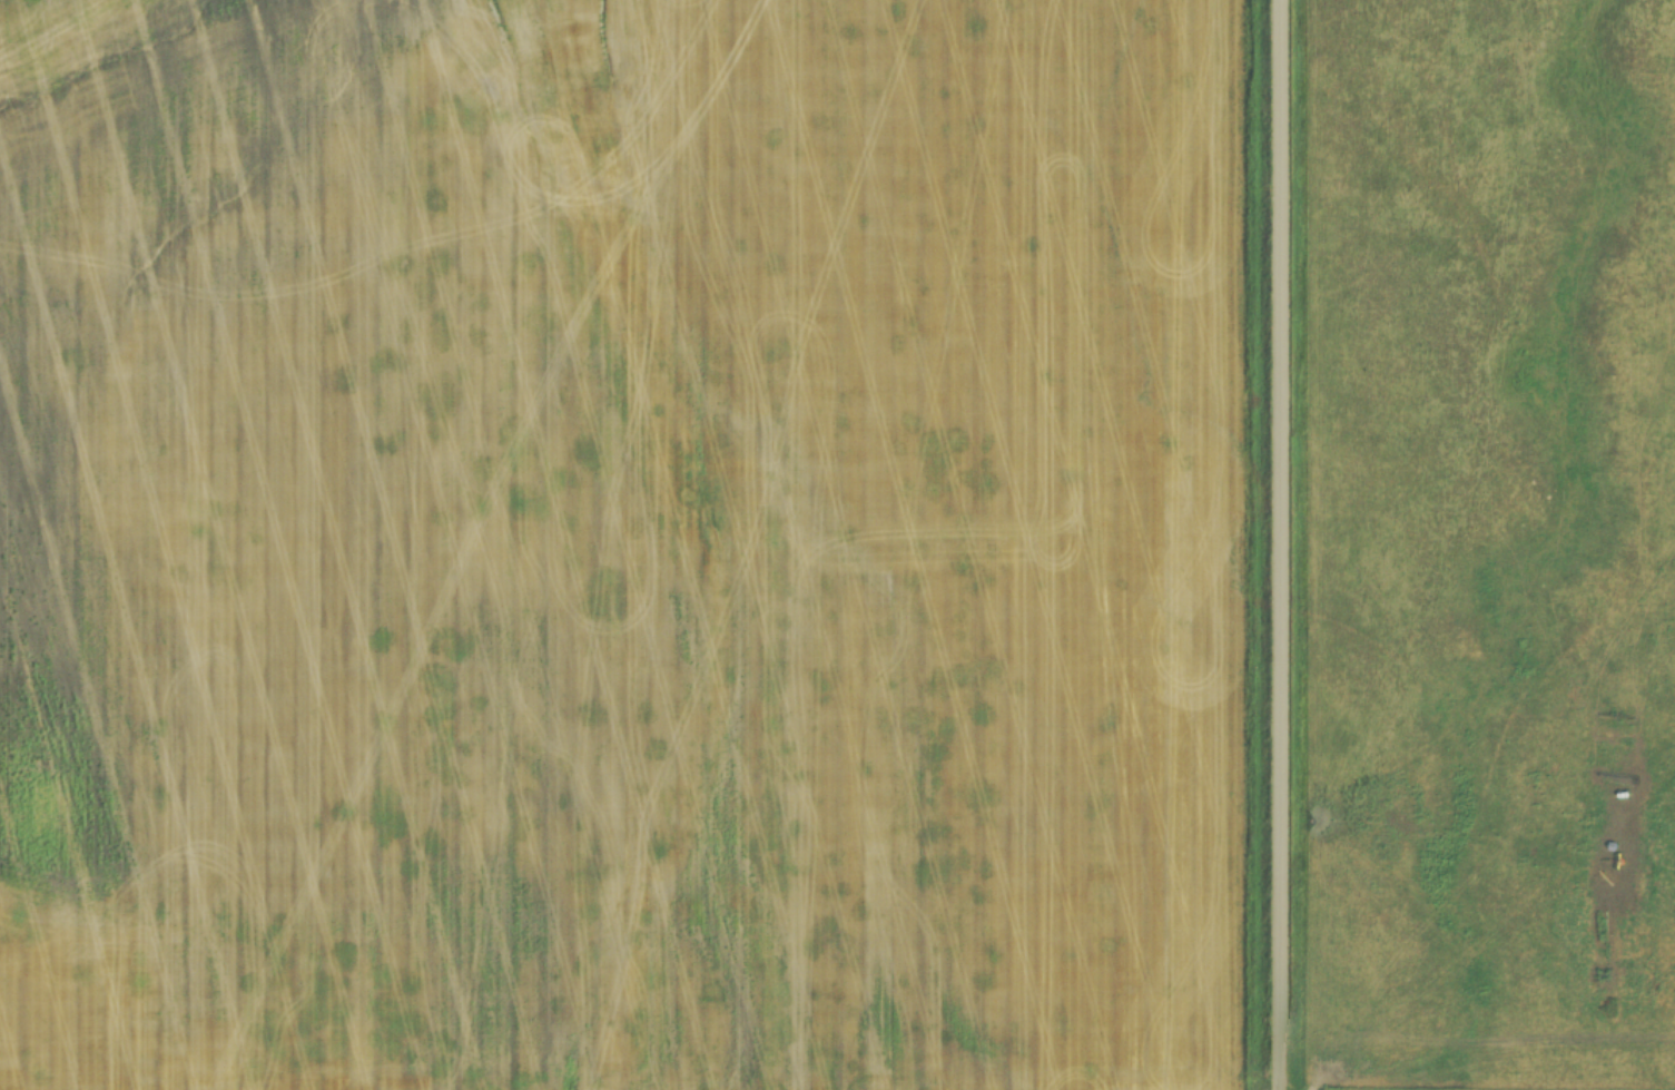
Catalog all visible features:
road: (1274, 544)

